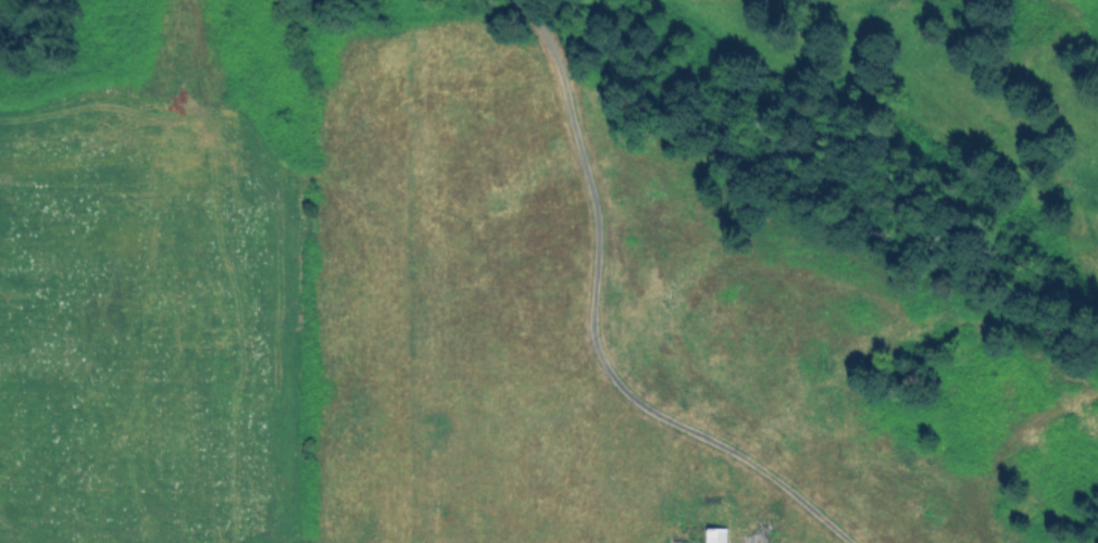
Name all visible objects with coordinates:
road: (592, 329)
building: (715, 534)
building: (676, 542)

